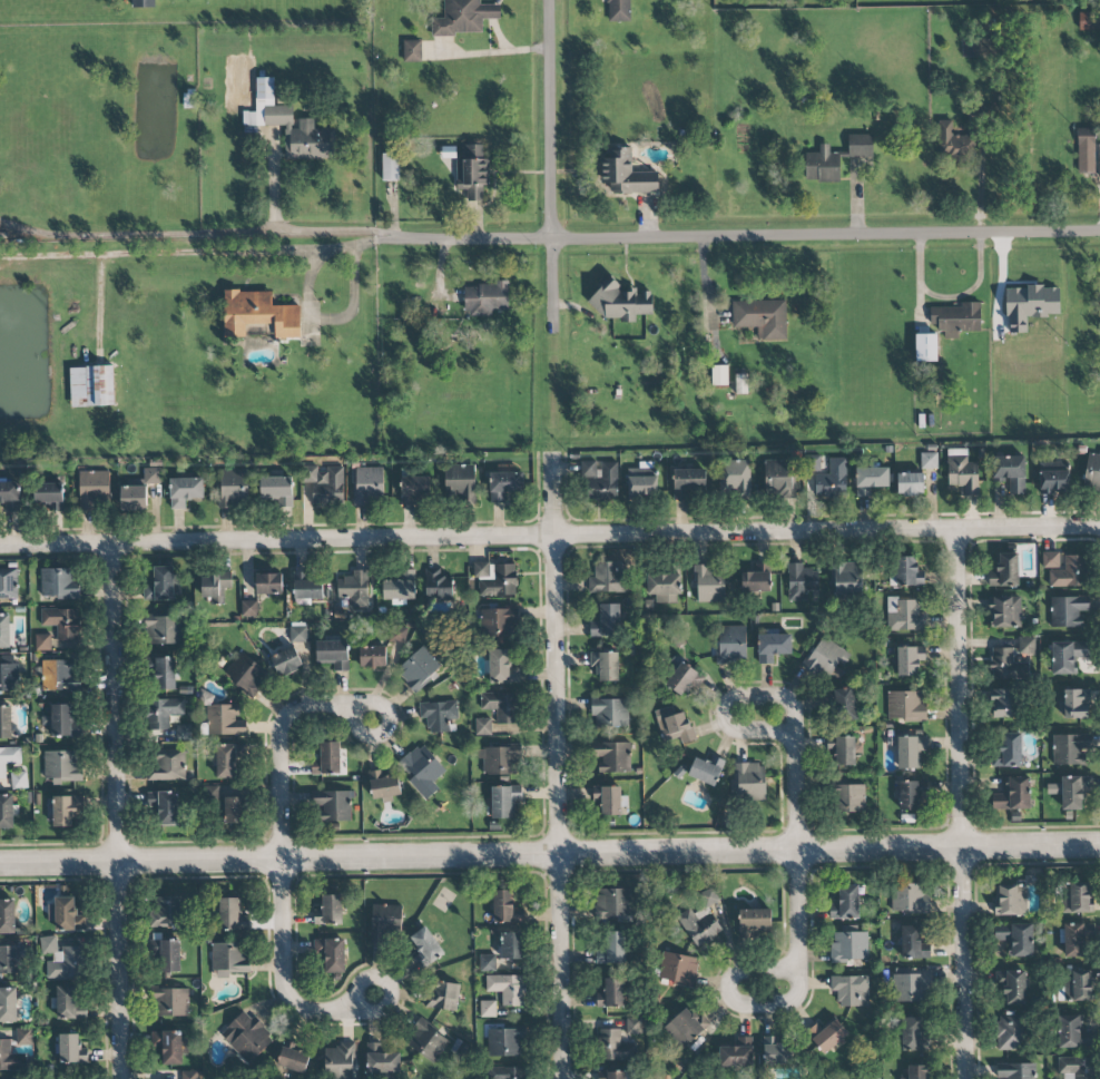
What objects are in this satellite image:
building: (143, 3)
building: (618, 10)
building: (463, 17)
building: (1089, 21)
building: (412, 50)
building: (979, 114)
building: (289, 126)
building: (954, 144)
building: (860, 146)
building: (1086, 151)
building: (1098, 161)
building: (823, 165)
road: (550, 166)
building: (390, 167)
building: (471, 171)
building: (625, 174)
road: (293, 230)
road: (825, 235)
road: (468, 237)
road: (352, 243)
road: (176, 253)
road: (946, 296)
building: (485, 298)
building: (1030, 305)
building: (258, 314)
building: (762, 317)
building: (955, 317)
road: (331, 321)
building: (256, 330)
building: (925, 347)
building: (719, 375)
building: (741, 384)
building: (91, 386)
building: (927, 461)
building: (814, 463)
building: (962, 472)
building: (1010, 472)
building: (1092, 473)
building: (148, 477)
building: (735, 478)
building: (600, 479)
building: (783, 479)
building: (870, 479)
building: (1054, 479)
building: (832, 480)
building: (642, 481)
building: (324, 482)
building: (460, 482)
building: (687, 482)
building: (369, 484)
building: (504, 484)
building: (910, 484)
building: (92, 488)
building: (233, 488)
building: (276, 490)
building: (414, 490)
building: (185, 491)
building: (9, 494)
building: (49, 494)
building: (132, 498)
road: (550, 536)
building: (1050, 560)
building: (1004, 570)
building: (907, 572)
building: (1069, 572)
building: (495, 578)
building: (607, 579)
building: (756, 579)
building: (847, 579)
building: (801, 581)
building: (59, 582)
building: (8, 583)
building: (268, 583)
building: (709, 583)
building: (161, 585)
building: (439, 585)
building: (215, 587)
building: (307, 587)
building: (664, 587)
building: (354, 588)
building: (401, 588)
building: (249, 608)
building: (1068, 610)
building: (1005, 611)
building: (906, 617)
building: (61, 621)
building: (495, 621)
building: (606, 621)
building: (164, 629)
building: (7, 631)
building: (298, 631)
building: (396, 635)
building: (42, 641)
building: (731, 645)
building: (1027, 645)
building: (773, 647)
building: (333, 653)
building: (372, 656)
building: (1067, 656)
building: (827, 658)
building: (910, 660)
building: (286, 661)
building: (1006, 665)
building: (606, 666)
building: (419, 668)
building: (500, 668)
building: (245, 673)
building: (8, 674)
building: (164, 674)
building: (58, 675)
building: (682, 679)
building: (845, 703)
building: (1002, 703)
road: (361, 704)
building: (1074, 704)
building: (905, 705)
building: (500, 706)
building: (163, 712)
building: (609, 713)
building: (438, 715)
building: (225, 720)
building: (63, 722)
building: (6, 723)
building: (482, 726)
building: (672, 726)
building: (184, 732)
road: (279, 747)
building: (1070, 748)
building: (845, 751)
building: (1008, 751)
building: (910, 752)
road: (792, 754)
building: (612, 757)
building: (8, 758)
building: (326, 758)
building: (228, 759)
building: (500, 759)
building: (167, 765)
road: (556, 765)
building: (62, 766)
building: (422, 769)
building: (706, 769)
building: (19, 781)
building: (749, 782)
building: (383, 786)
building: (1071, 791)
building: (911, 794)
building: (1013, 794)
building: (848, 798)
building: (151, 800)
building: (504, 801)
building: (607, 801)
road: (960, 803)
building: (334, 806)
building: (167, 807)
building: (66, 810)
building: (233, 810)
building: (7, 811)
road: (116, 811)
road: (549, 853)
building: (910, 897)
building: (1078, 897)
building: (1010, 900)
building: (845, 903)
building: (613, 904)
building: (507, 908)
building: (331, 910)
building: (166, 912)
building: (230, 914)
building: (65, 915)
building: (7, 916)
building: (385, 922)
building: (754, 922)
building: (707, 928)
building: (1015, 938)
building: (1077, 939)
building: (914, 942)
road: (795, 943)
building: (848, 944)
building: (511, 945)
building: (612, 946)
building: (425, 948)
building: (167, 954)
building: (331, 954)
building: (9, 959)
building: (61, 959)
building: (229, 959)
building: (488, 963)
road: (282, 968)
building: (678, 969)
building: (1077, 983)
building: (912, 984)
building: (1012, 985)
building: (507, 988)
building: (851, 990)
building: (611, 993)
building: (442, 995)
building: (67, 1002)
building: (171, 1002)
building: (8, 1004)
road: (361, 1004)
building: (488, 1008)
building: (634, 1026)
building: (684, 1028)
building: (1011, 1032)
building: (1072, 1032)
building: (23, 1036)
building: (826, 1036)
building: (914, 1036)
building: (246, 1037)
building: (426, 1042)
building: (505, 1042)
building: (169, 1046)
building: (616, 1046)
building: (69, 1049)
building: (778, 1051)
building: (738, 1052)
building: (293, 1057)
building: (10, 1058)
building: (381, 1060)
building: (340, 1061)
building: (1077, 1068)
building: (1016, 1070)
building: (504, 1072)
building: (917, 1072)
building: (189, 1075)
building: (611, 1075)

